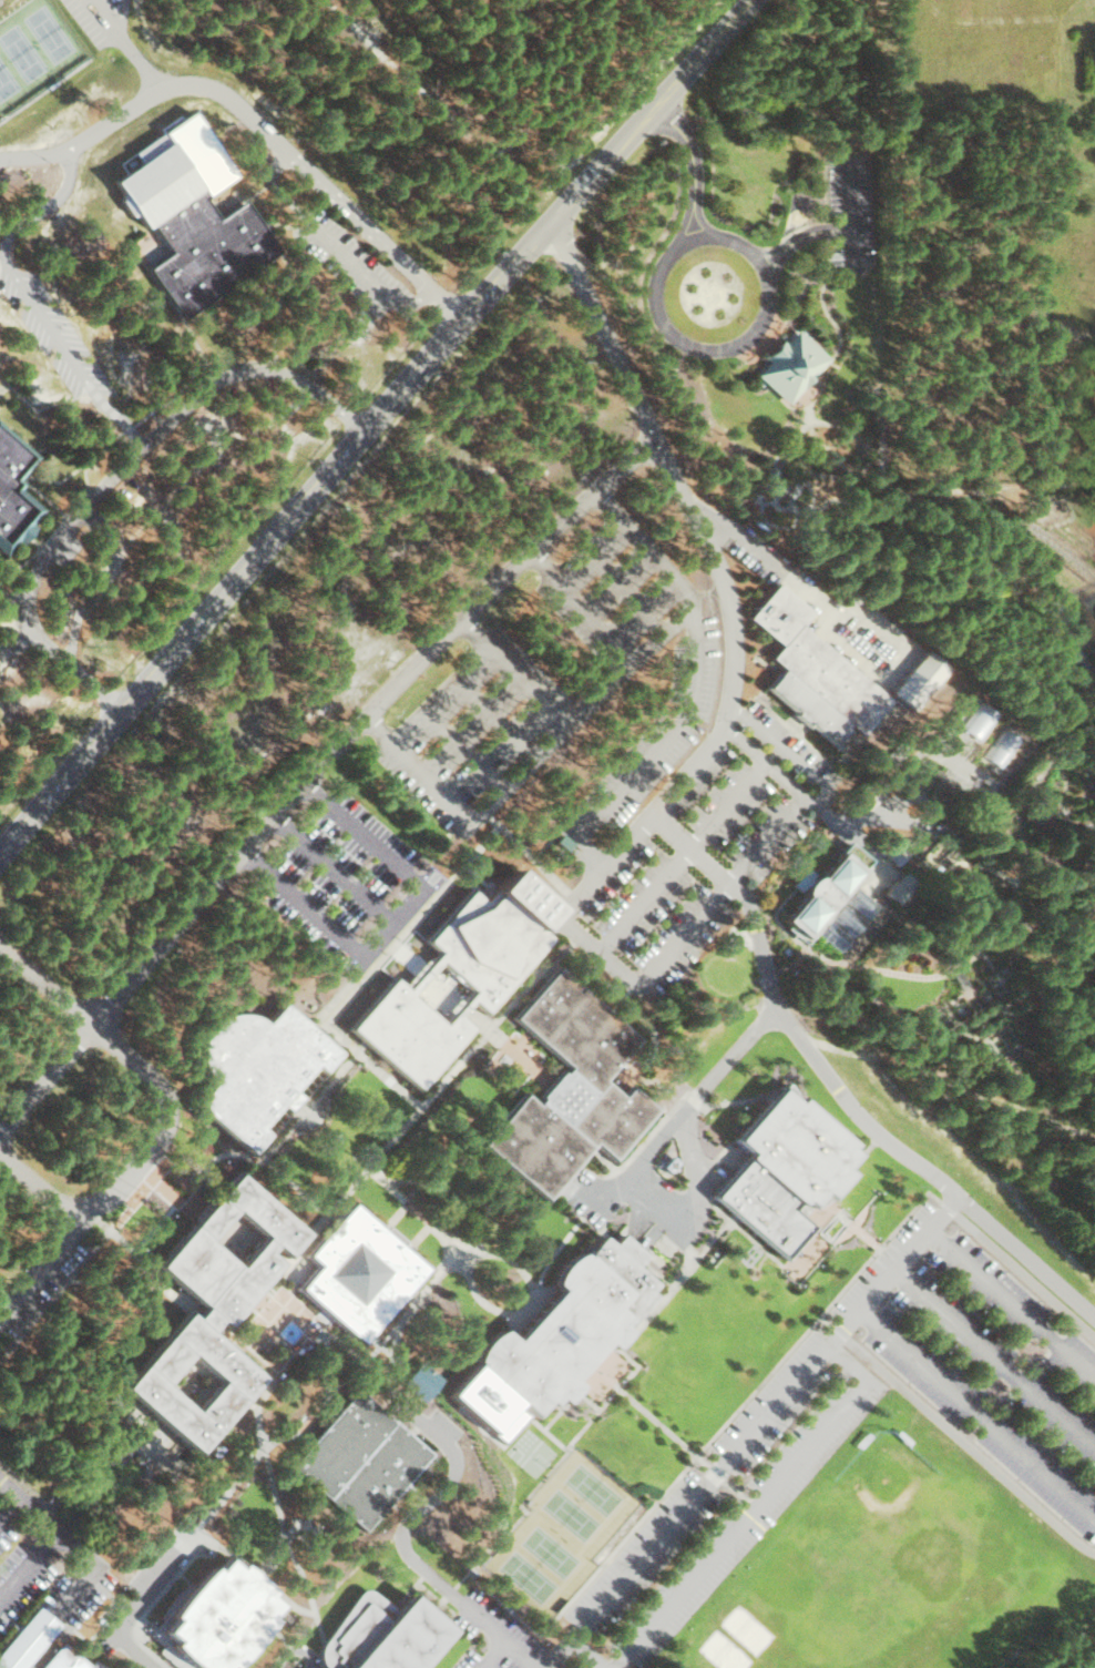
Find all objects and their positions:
park: (34, 50)
road: (235, 105)
parking lot: (847, 196)
building: (192, 214)
road: (339, 247)
road: (31, 297)
road: (452, 302)
road: (675, 334)
building: (798, 367)
road: (845, 426)
road: (378, 428)
road: (158, 431)
building: (14, 491)
road: (831, 631)
road: (69, 661)
building: (816, 672)
building: (921, 679)
road: (1086, 750)
road: (706, 752)
road: (1057, 755)
road: (325, 774)
road: (987, 866)
road: (337, 874)
building: (805, 878)
building: (901, 887)
building: (825, 895)
building: (848, 918)
road: (395, 927)
road: (1044, 930)
road: (920, 975)
building: (459, 978)
building: (259, 1069)
building: (571, 1090)
road: (150, 1129)
building: (787, 1171)
road: (43, 1179)
road: (1030, 1244)
building: (361, 1274)
building: (215, 1313)
building: (560, 1339)
building: (596, 1376)
building: (422, 1382)
road: (754, 1428)
building: (361, 1459)
road: (8, 1508)
road: (59, 1534)
road: (401, 1540)
road: (29, 1572)
building: (219, 1617)
building: (383, 1634)
building: (28, 1639)
building: (69, 1659)

